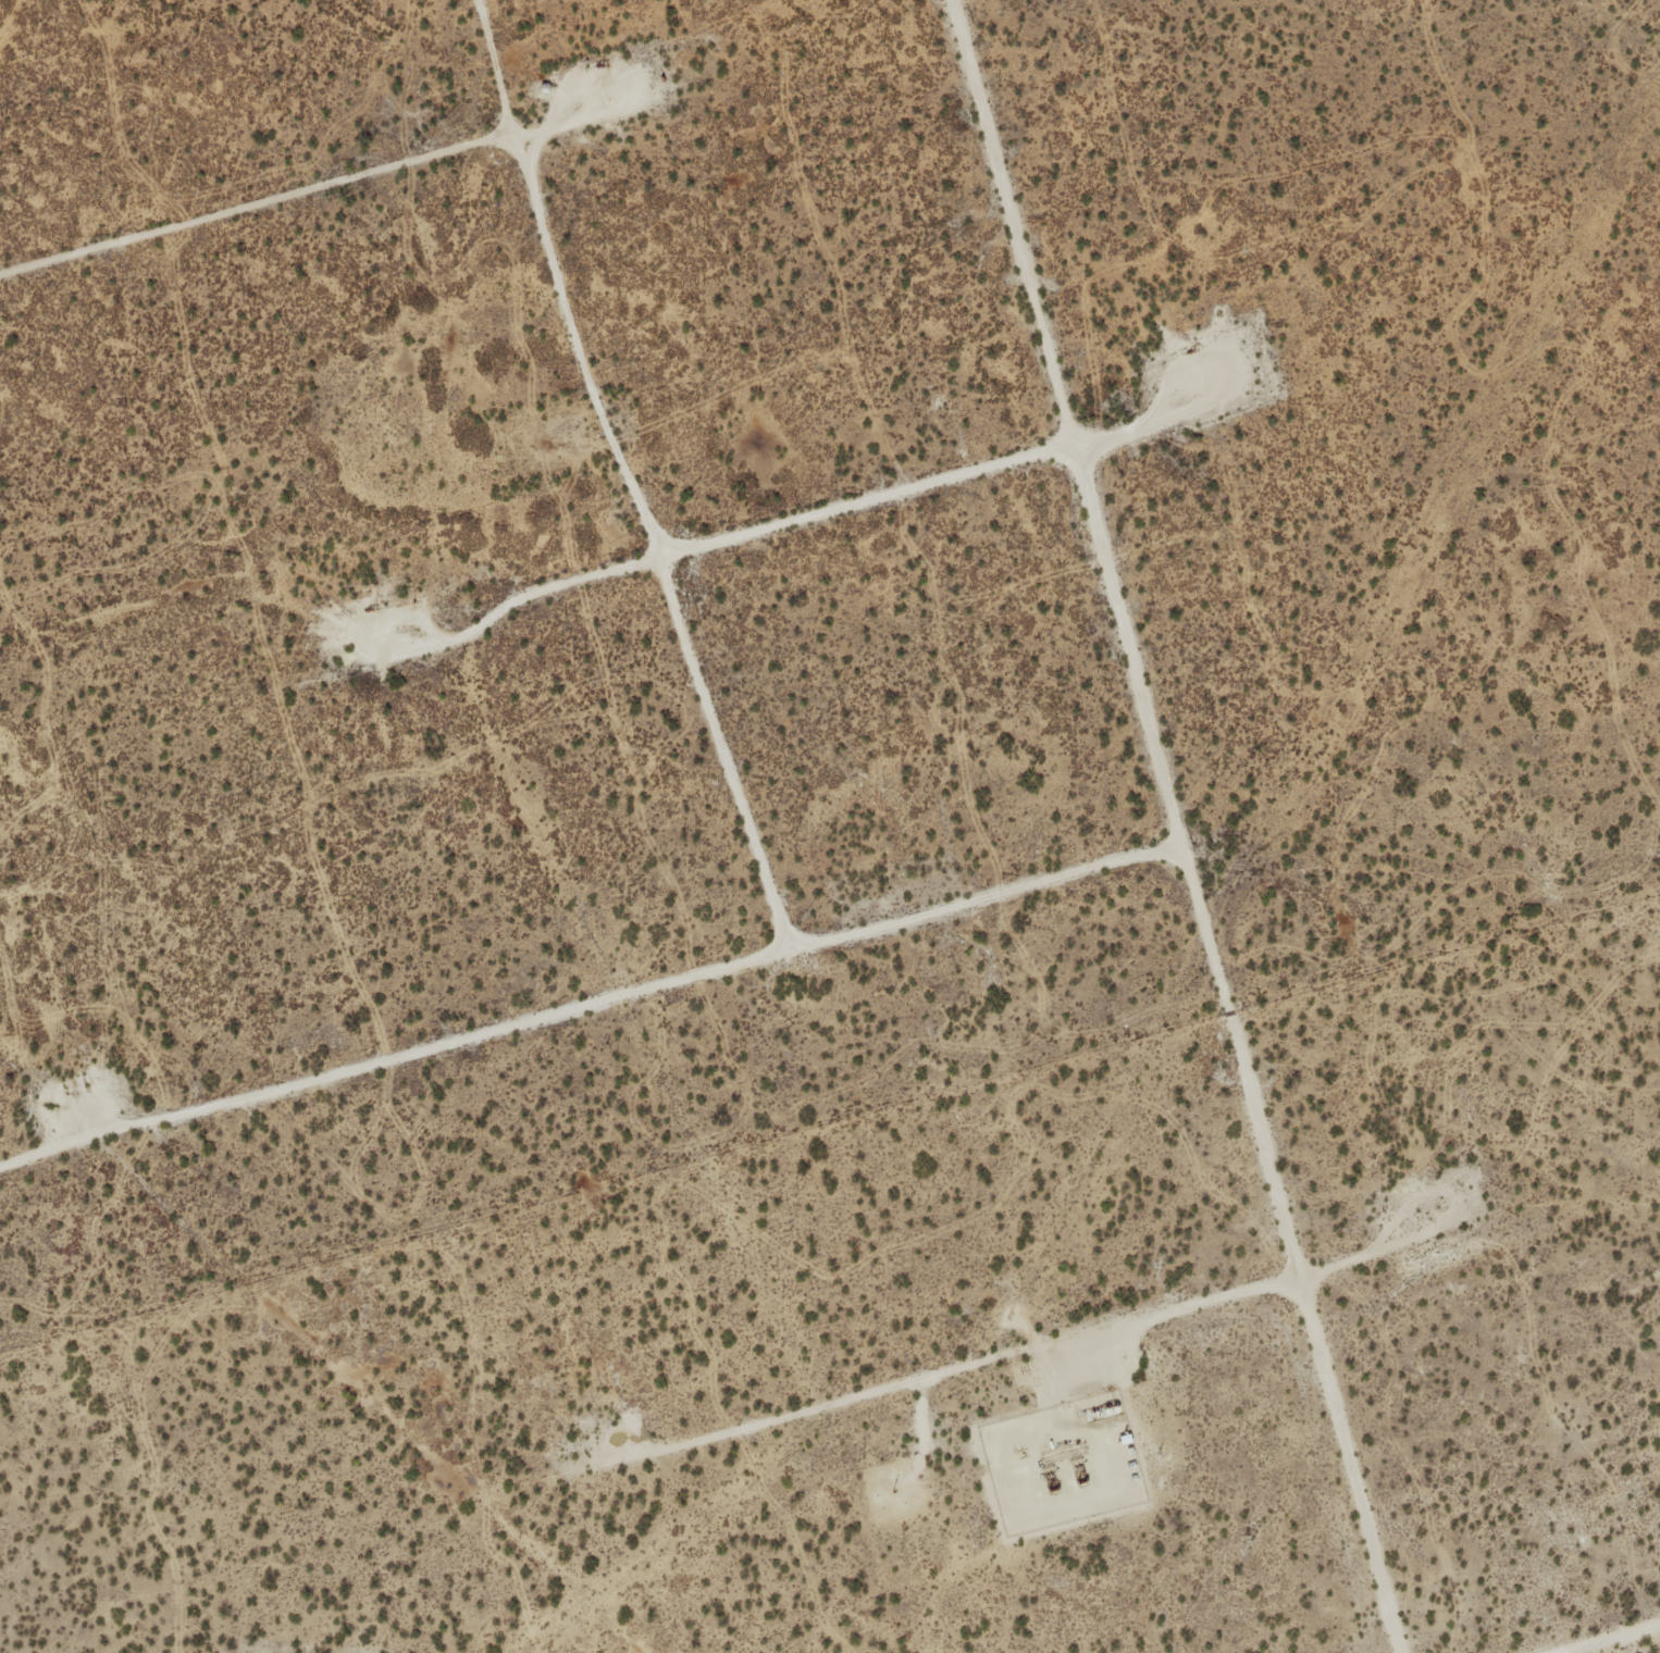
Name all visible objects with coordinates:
road: (260, 207)
road: (630, 475)
road: (867, 501)
road: (1179, 826)
road: (593, 1005)
road: (953, 1371)
road: (1616, 1640)

